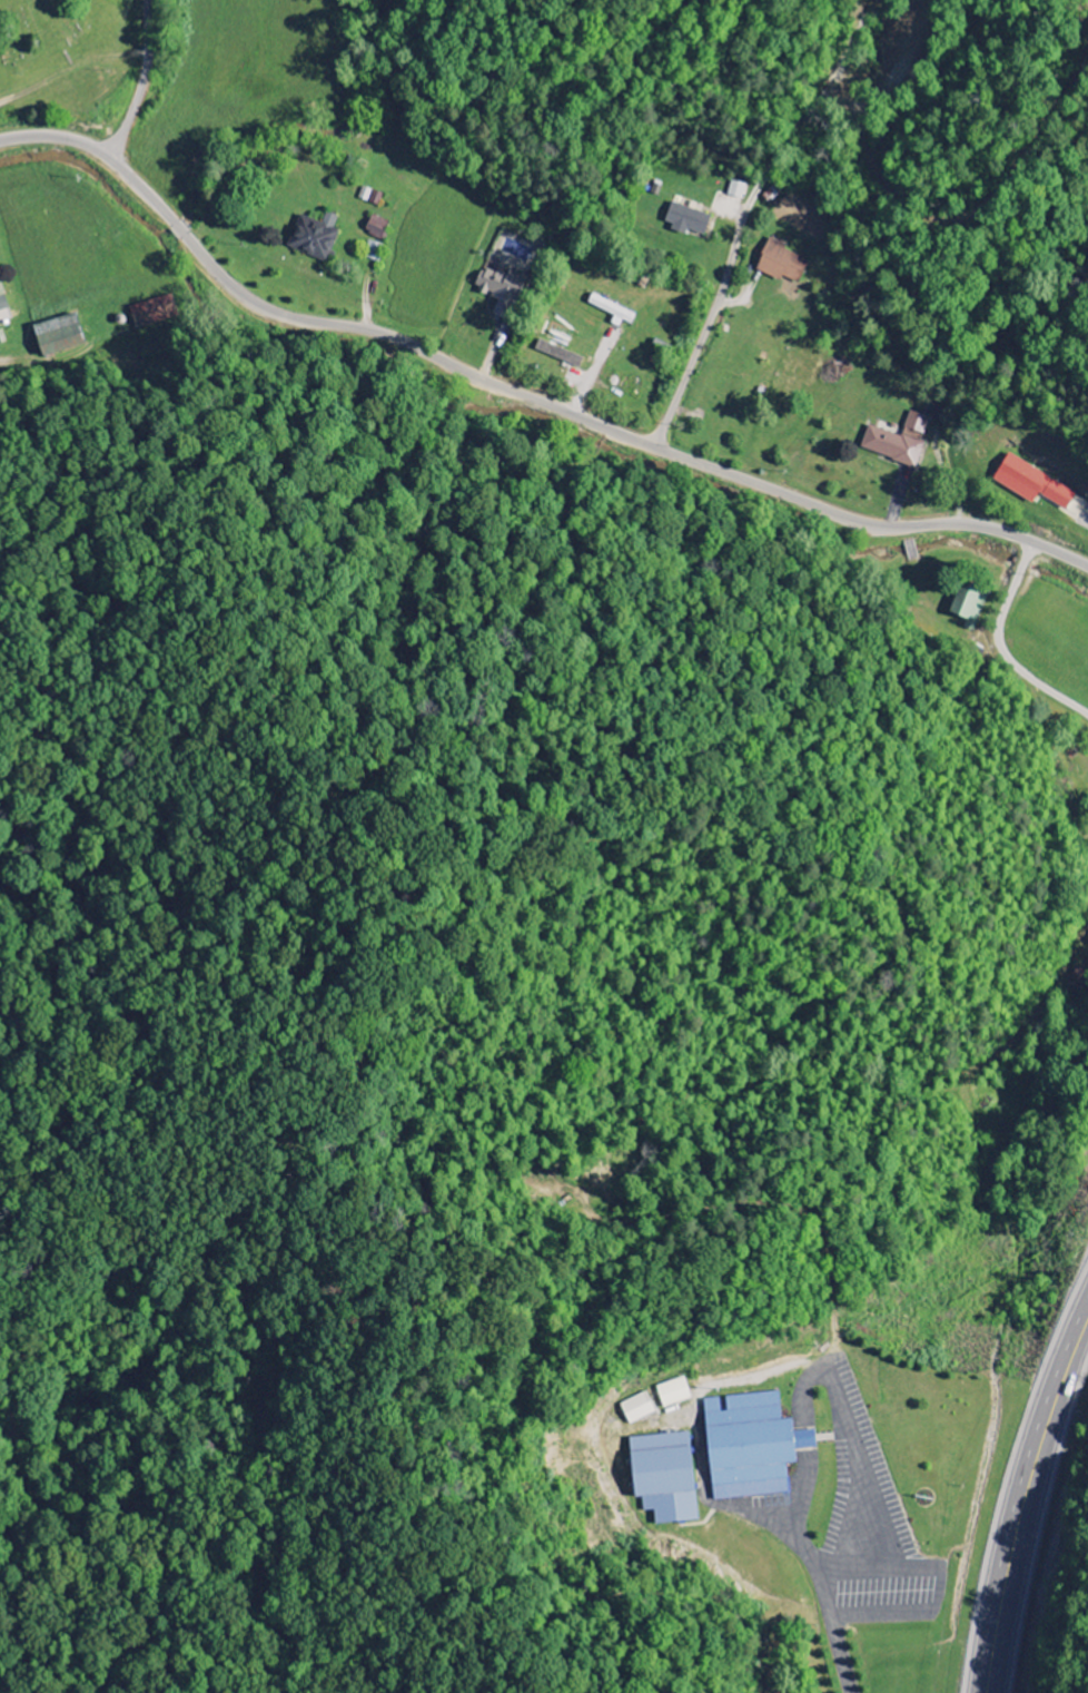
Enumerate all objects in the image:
park: (58, 32)
road: (70, 66)
road: (144, 82)
building: (735, 190)
building: (685, 219)
building: (376, 226)
building: (313, 237)
building: (372, 252)
building: (780, 263)
building: (500, 288)
building: (2, 303)
building: (611, 311)
building: (152, 312)
road: (708, 326)
building: (59, 336)
building: (557, 354)
road: (518, 394)
building: (897, 441)
building: (1030, 483)
building: (967, 604)
building: (1078, 980)
road: (803, 1389)
building: (672, 1392)
building: (635, 1408)
building: (748, 1446)
building: (661, 1476)
road: (1025, 1497)
road: (840, 1579)
road: (937, 1593)
road: (842, 1651)

